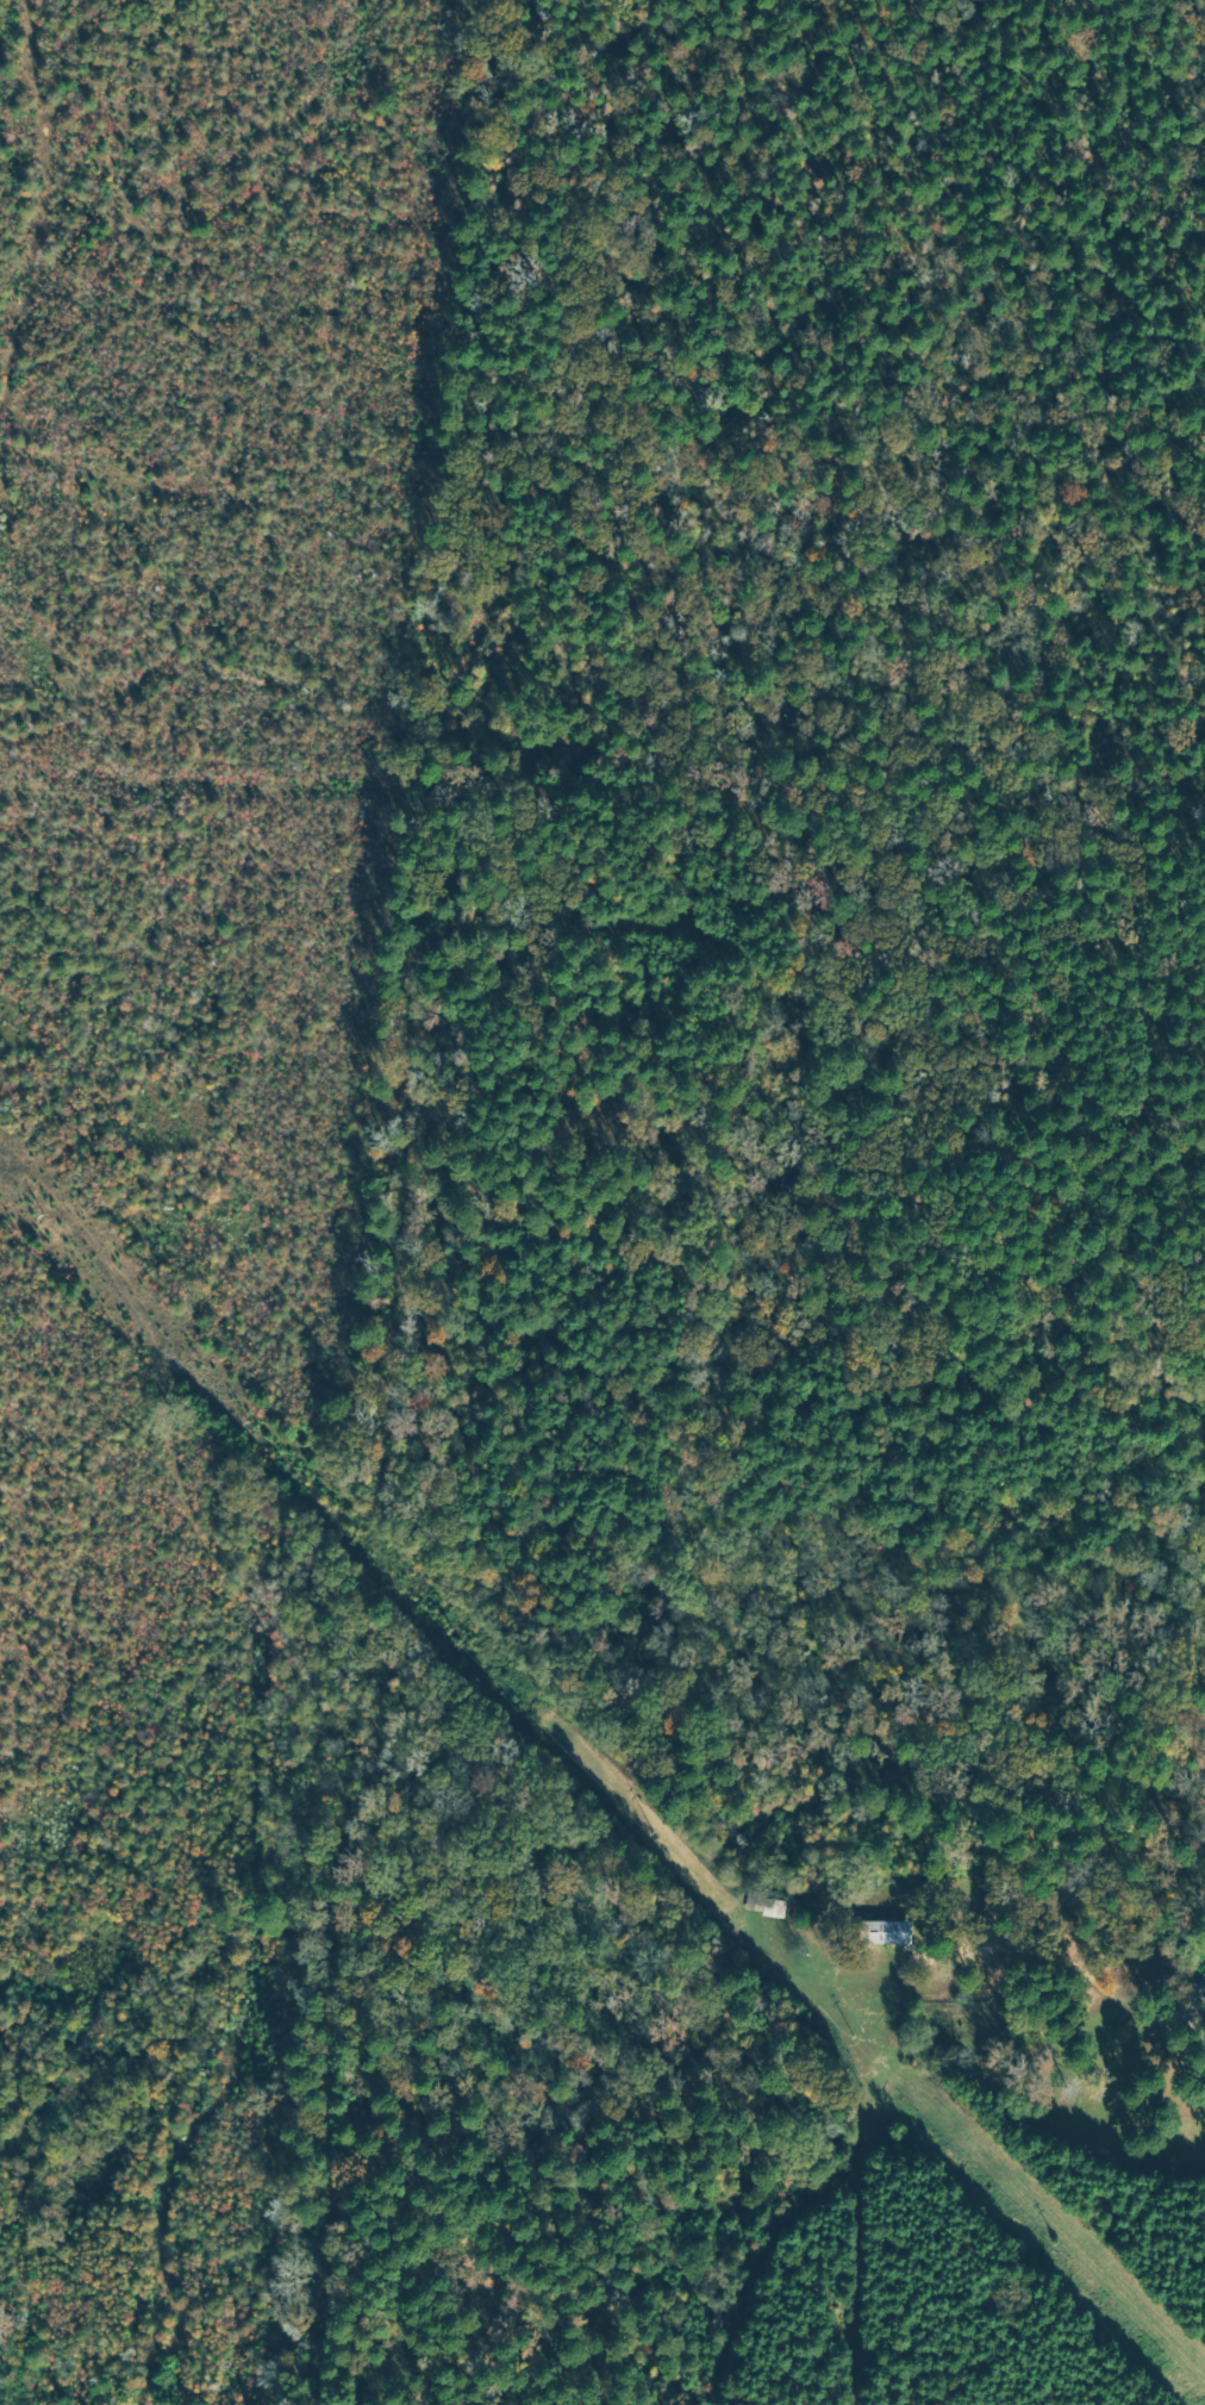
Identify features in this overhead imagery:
building: (773, 1907)
building: (882, 1933)
building: (1198, 1988)

